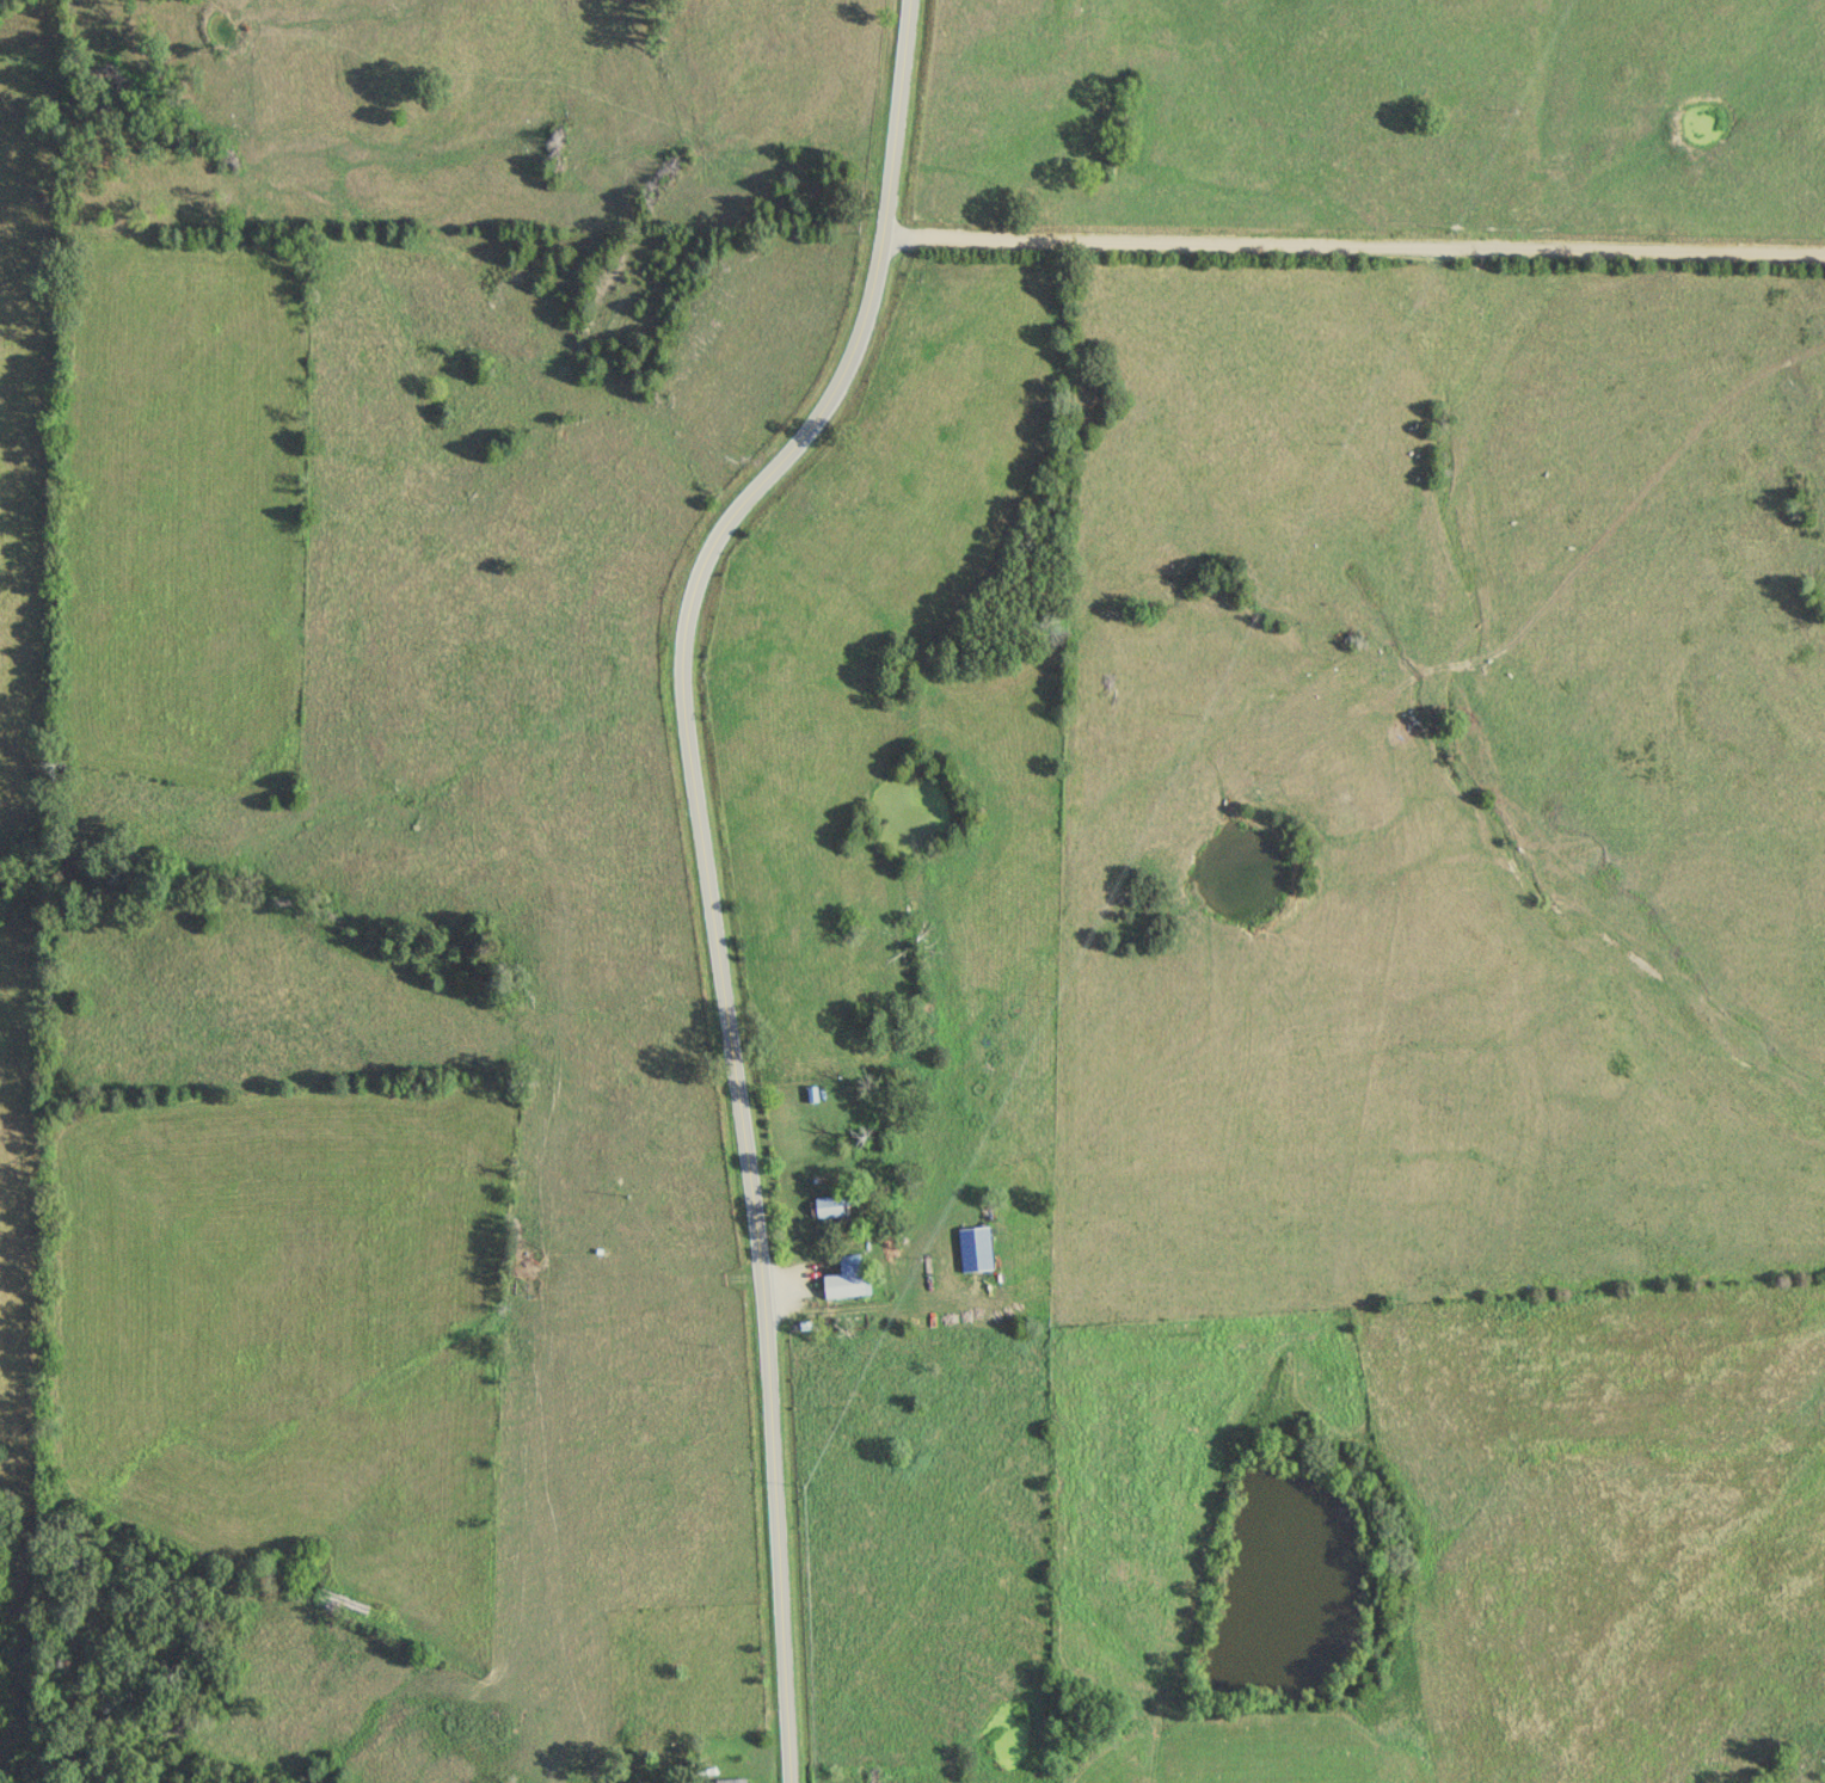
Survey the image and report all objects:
road: (1352, 251)
road: (705, 865)
building: (831, 1206)
building: (977, 1249)
building: (847, 1278)
building: (733, 1781)

